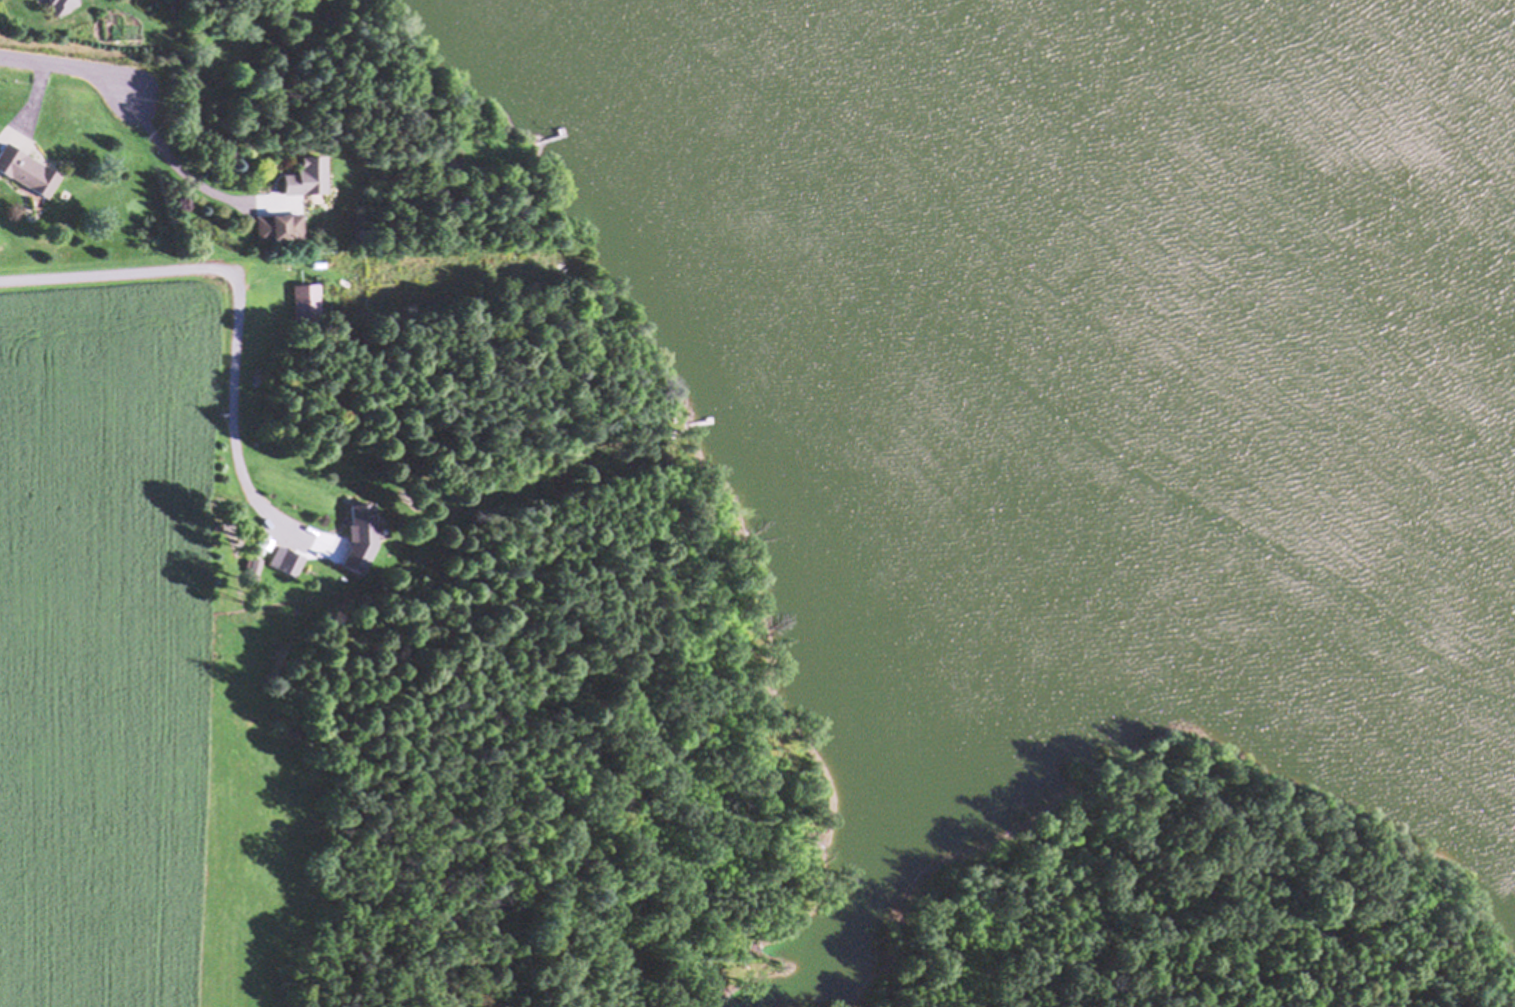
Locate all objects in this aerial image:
building: (58, 6)
river: (1400, 70)
road: (72, 74)
building: (445, 172)
building: (24, 174)
building: (275, 228)
road: (233, 306)
building: (302, 306)
building: (354, 538)
building: (282, 563)
crop: (131, 676)

